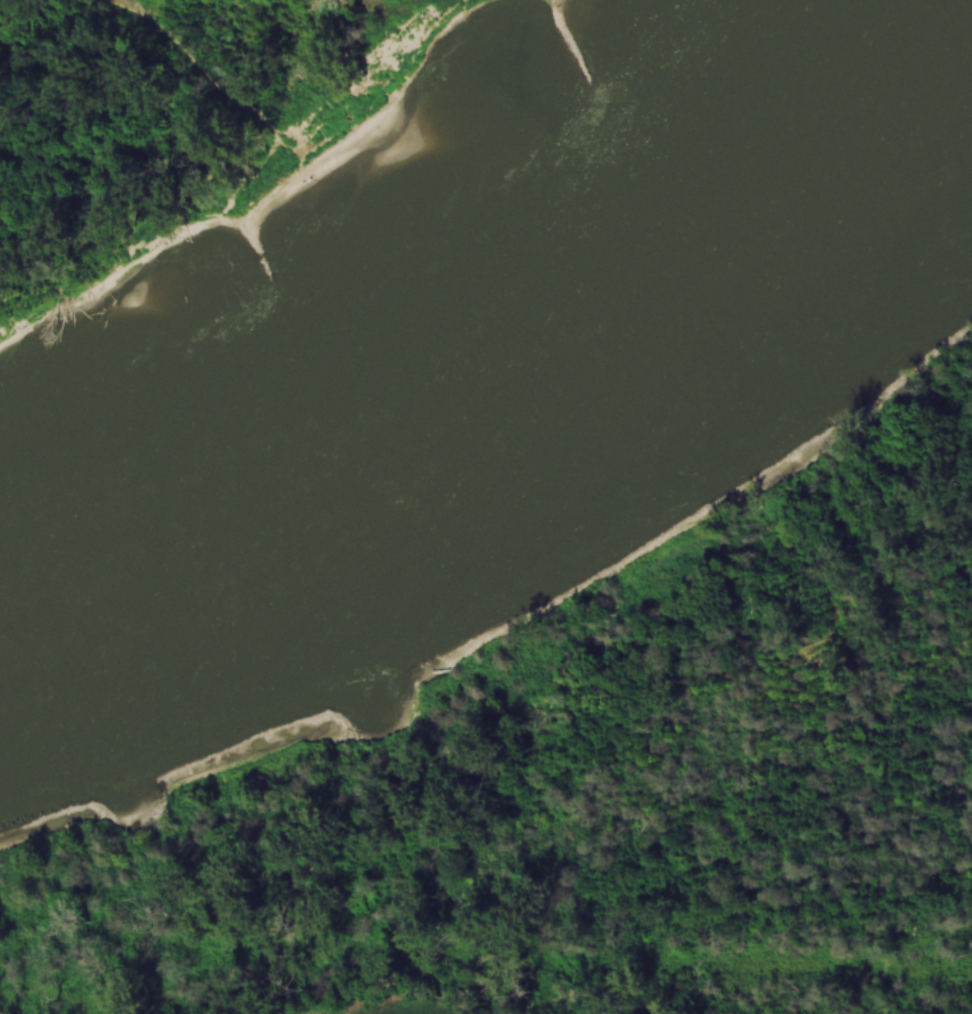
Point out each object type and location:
road: (134, 18)
park: (165, 121)
river: (515, 386)

